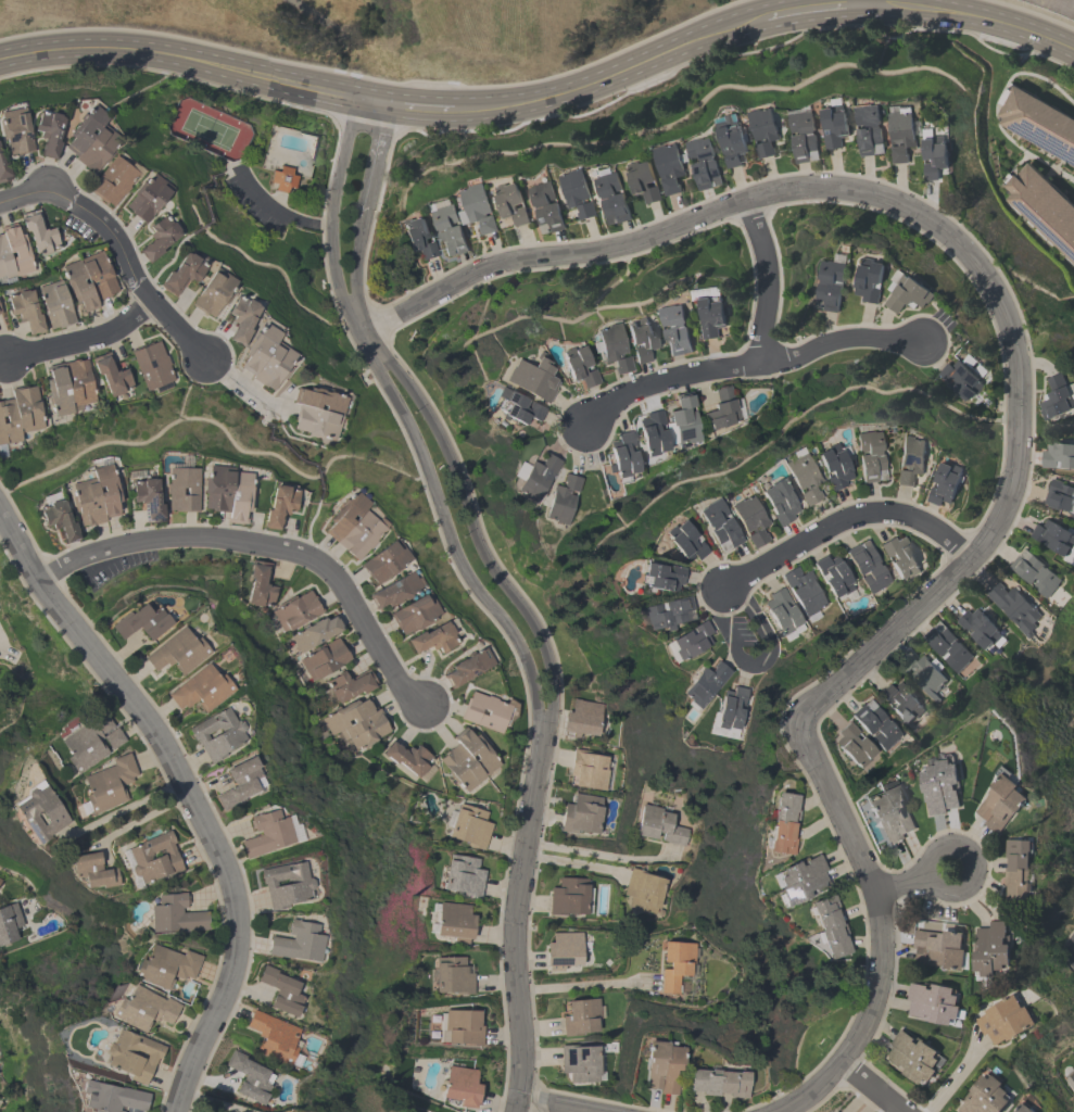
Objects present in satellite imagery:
road: (862, 3)
road: (816, 9)
road: (971, 14)
road: (187, 61)
road: (612, 66)
road: (413, 102)
building: (1037, 122)
building: (834, 126)
building: (84, 129)
building: (869, 129)
building: (762, 130)
building: (14, 131)
park: (209, 131)
building: (47, 132)
building: (900, 134)
building: (803, 137)
building: (731, 141)
building: (97, 149)
building: (933, 153)
building: (704, 162)
building: (669, 167)
road: (232, 172)
building: (3, 173)
building: (282, 179)
building: (112, 181)
building: (643, 181)
building: (578, 192)
building: (147, 198)
building: (611, 198)
building: (511, 203)
building: (477, 206)
building: (546, 206)
building: (1043, 207)
road: (283, 215)
road: (935, 225)
building: (450, 230)
building: (38, 232)
building: (418, 238)
building: (157, 239)
road: (121, 248)
building: (13, 253)
road: (169, 263)
building: (181, 274)
building: (98, 275)
road: (766, 280)
building: (869, 280)
building: (78, 286)
building: (830, 286)
building: (907, 292)
building: (213, 293)
building: (54, 304)
building: (710, 311)
building: (25, 312)
building: (0, 314)
building: (241, 319)
building: (674, 329)
building: (641, 339)
road: (83, 340)
building: (612, 347)
building: (258, 349)
road: (747, 365)
building: (152, 366)
building: (274, 366)
building: (579, 367)
building: (111, 375)
building: (531, 378)
building: (960, 379)
building: (78, 382)
building: (58, 390)
road: (237, 392)
building: (1058, 397)
building: (319, 401)
building: (516, 406)
building: (27, 408)
building: (722, 410)
building: (8, 422)
building: (316, 422)
building: (683, 422)
building: (653, 433)
building: (624, 455)
building: (1058, 456)
building: (869, 457)
building: (909, 462)
building: (832, 467)
building: (536, 478)
building: (801, 479)
building: (944, 484)
building: (105, 490)
building: (181, 490)
building: (217, 490)
building: (239, 497)
building: (1060, 497)
building: (148, 500)
building: (561, 500)
building: (86, 503)
building: (778, 503)
building: (279, 506)
building: (345, 516)
building: (59, 520)
building: (749, 521)
building: (718, 526)
building: (359, 535)
road: (306, 536)
building: (1052, 538)
building: (684, 543)
road: (264, 545)
building: (898, 557)
building: (384, 563)
road: (758, 566)
building: (867, 567)
building: (1034, 573)
building: (833, 576)
building: (660, 579)
building: (261, 584)
building: (803, 590)
building: (395, 591)
road: (496, 593)
building: (1014, 607)
building: (298, 611)
building: (782, 611)
building: (415, 615)
building: (667, 615)
building: (141, 623)
building: (978, 627)
building: (315, 633)
building: (433, 640)
building: (688, 643)
building: (946, 646)
building: (177, 653)
building: (325, 659)
building: (468, 669)
building: (921, 671)
building: (352, 684)
building: (705, 684)
building: (201, 691)
building: (900, 702)
building: (731, 708)
building: (484, 711)
building: (582, 717)
building: (358, 722)
building: (875, 725)
building: (217, 735)
building: (90, 743)
building: (854, 746)
building: (407, 759)
building: (467, 760)
building: (589, 770)
building: (240, 784)
building: (940, 785)
building: (106, 786)
road: (188, 792)
road: (834, 804)
building: (1001, 805)
road: (127, 808)
building: (889, 812)
building: (581, 814)
building: (39, 816)
road: (143, 820)
building: (659, 825)
building: (782, 826)
building: (469, 827)
building: (267, 834)
road: (599, 854)
building: (154, 858)
road: (972, 864)
building: (1019, 871)
building: (92, 872)
building: (463, 876)
building: (800, 882)
building: (0, 885)
building: (286, 886)
building: (643, 890)
building: (568, 898)
building: (175, 915)
building: (454, 922)
building: (9, 924)
building: (830, 928)
building: (298, 944)
building: (938, 948)
building: (991, 949)
road: (1073, 949)
building: (563, 951)
building: (674, 965)
building: (165, 968)
building: (452, 976)
road: (577, 986)
building: (280, 993)
road: (875, 996)
building: (933, 1002)
building: (143, 1009)
building: (580, 1018)
building: (1004, 1019)
building: (463, 1027)
building: (273, 1038)
building: (134, 1057)
building: (913, 1058)
building: (580, 1063)
building: (661, 1067)
building: (1073, 1071)
road: (953, 1076)
building: (249, 1079)
building: (1071, 1079)
building: (719, 1084)
building: (460, 1085)
road: (872, 1087)
building: (984, 1096)
building: (112, 1099)
road: (213, 1102)
road: (553, 1104)
building: (1022, 1108)

